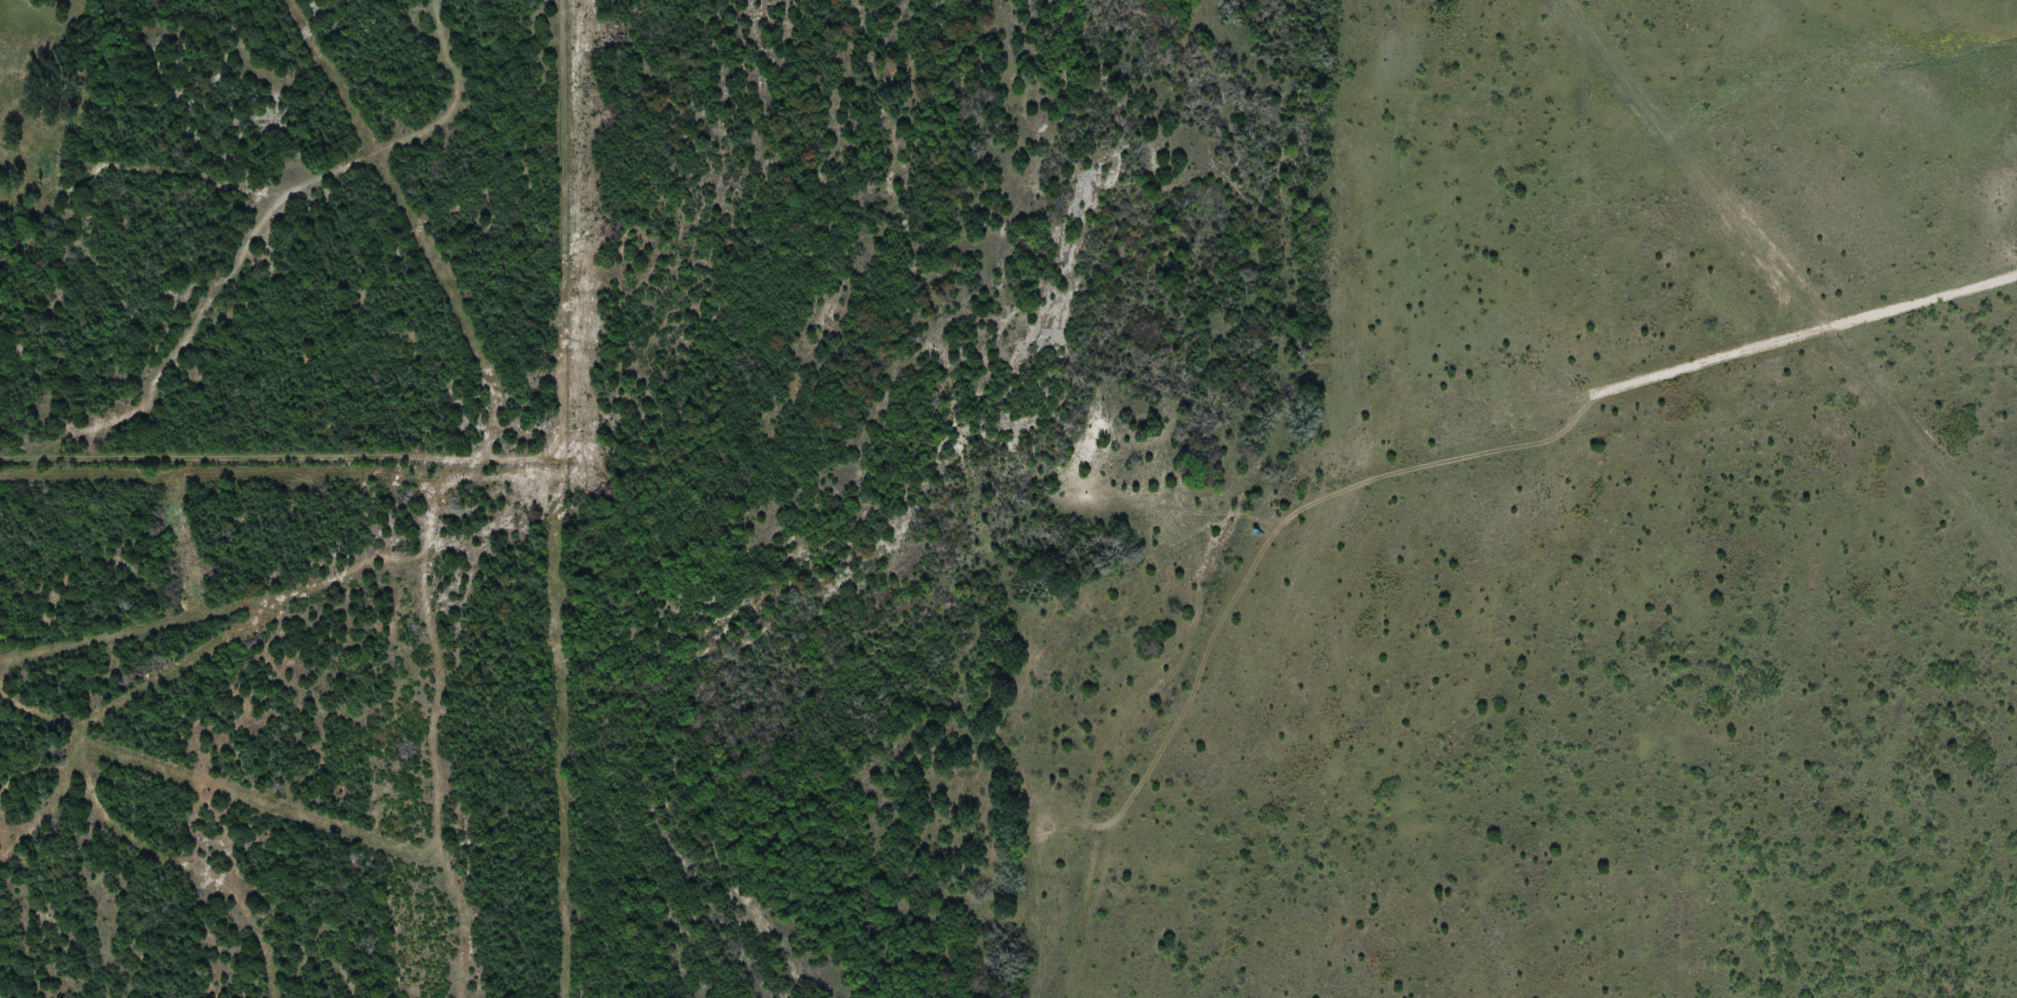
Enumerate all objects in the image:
road: (1806, 326)

